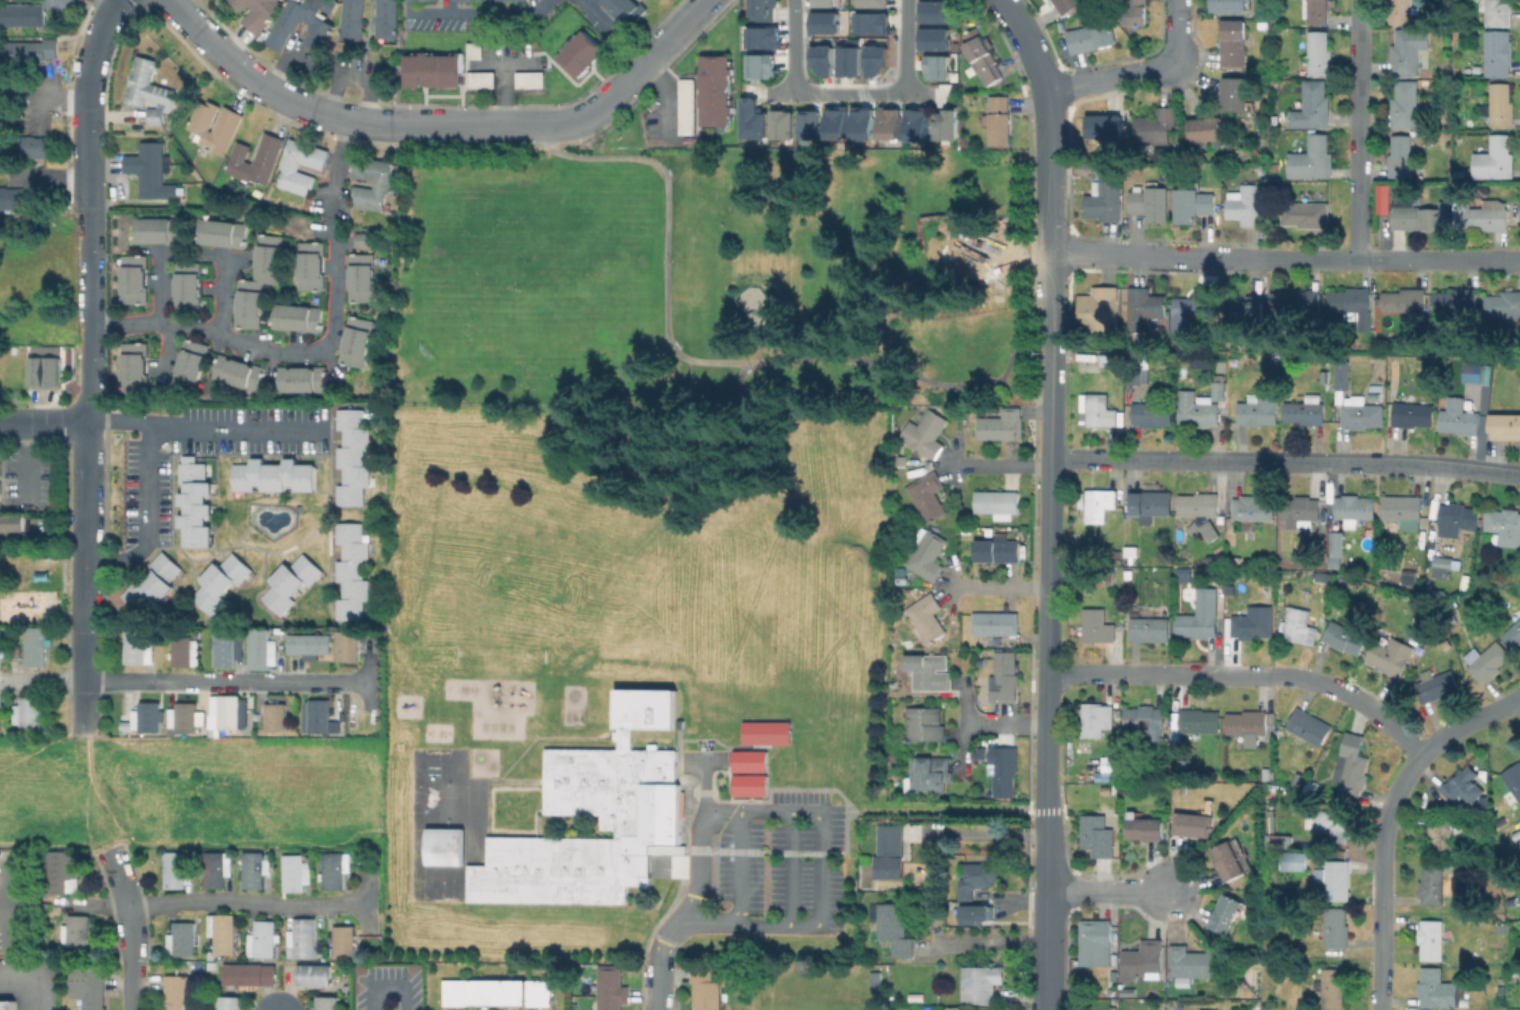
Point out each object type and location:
building: (517, 0)
building: (829, 2)
building: (872, 3)
building: (58, 5)
road: (109, 5)
building: (1067, 5)
building: (1230, 5)
building: (626, 8)
building: (761, 10)
building: (933, 11)
building: (1135, 11)
building: (1316, 11)
building: (1402, 11)
building: (259, 12)
road: (477, 12)
building: (1498, 12)
building: (22, 14)
building: (383, 18)
building: (349, 19)
building: (823, 22)
building: (871, 22)
building: (322, 27)
building: (1264, 27)
road: (612, 31)
building: (1092, 36)
building: (762, 37)
building: (934, 38)
building: (1234, 42)
road: (1024, 43)
road: (790, 46)
road: (903, 47)
building: (29, 49)
building: (1409, 51)
building: (579, 52)
building: (1320, 53)
building: (1498, 53)
building: (983, 56)
building: (821, 59)
building: (875, 60)
building: (848, 61)
building: (760, 65)
building: (936, 67)
building: (432, 70)
road: (1138, 72)
building: (479, 79)
building: (528, 79)
building: (145, 86)
building: (713, 90)
road: (503, 93)
road: (847, 93)
building: (1235, 93)
road: (90, 101)
building: (1406, 104)
building: (685, 106)
building: (1313, 106)
building: (1500, 106)
building: (155, 118)
building: (751, 119)
building: (1001, 120)
building: (835, 123)
building: (889, 123)
road: (442, 124)
building: (781, 124)
building: (808, 124)
building: (863, 124)
building: (915, 125)
building: (1104, 126)
building: (226, 128)
building: (1156, 128)
building: (948, 129)
road: (1361, 130)
building: (1209, 131)
building: (31, 146)
building: (1402, 156)
building: (1312, 158)
building: (1496, 158)
building: (257, 159)
building: (291, 165)
road: (337, 168)
building: (1102, 171)
road: (45, 172)
building: (153, 172)
building: (384, 182)
road: (1048, 188)
building: (12, 198)
building: (1384, 199)
building: (1105, 201)
building: (1151, 203)
building: (1247, 204)
building: (1193, 205)
building: (1306, 214)
building: (1482, 216)
building: (1417, 218)
building: (156, 230)
building: (220, 234)
road: (1158, 255)
park: (534, 256)
building: (269, 257)
road: (1393, 260)
building: (309, 265)
park: (713, 277)
building: (133, 279)
road: (217, 279)
building: (360, 279)
road: (154, 283)
building: (185, 285)
building: (1350, 299)
building: (1457, 299)
building: (1405, 300)
building: (1296, 301)
building: (1503, 304)
building: (1255, 305)
building: (248, 307)
park: (470, 308)
building: (1100, 308)
building: (1145, 308)
building: (1192, 309)
building: (297, 318)
road: (92, 326)
building: (356, 341)
road: (275, 346)
road: (675, 352)
building: (1278, 354)
road: (1008, 358)
building: (1110, 359)
building: (1326, 359)
building: (1236, 361)
building: (188, 363)
building: (133, 366)
building: (47, 370)
building: (238, 372)
building: (1474, 373)
building: (1136, 374)
building: (1324, 374)
building: (1343, 374)
building: (1378, 377)
building: (300, 380)
building: (1220, 386)
building: (1376, 393)
building: (1198, 408)
building: (1259, 408)
building: (1307, 410)
building: (1100, 411)
building: (1153, 413)
building: (1361, 414)
building: (1413, 414)
building: (1460, 417)
road: (119, 419)
road: (44, 423)
building: (1002, 425)
building: (1505, 425)
road: (147, 428)
building: (927, 433)
building: (351, 456)
building: (899, 460)
road: (1285, 462)
road: (999, 465)
building: (272, 475)
building: (929, 496)
building: (193, 502)
building: (998, 503)
building: (1098, 504)
building: (1151, 504)
building: (1255, 508)
building: (1355, 508)
building: (1303, 509)
building: (1405, 511)
building: (1201, 512)
building: (1459, 518)
building: (1505, 524)
building: (11, 525)
road: (1048, 533)
building: (998, 548)
building: (1338, 550)
building: (1130, 553)
building: (928, 554)
building: (1235, 560)
building: (1444, 562)
building: (350, 570)
building: (1183, 573)
building: (1130, 575)
building: (903, 576)
building: (1111, 577)
building: (1409, 577)
building: (151, 582)
building: (218, 582)
building: (288, 582)
road: (998, 586)
road: (87, 587)
building: (1217, 600)
park: (806, 604)
building: (927, 619)
building: (996, 623)
building: (1254, 623)
building: (1098, 625)
building: (1197, 625)
building: (1300, 626)
building: (1150, 629)
building: (1514, 636)
building: (1346, 638)
building: (1, 639)
building: (310, 643)
building: (36, 645)
building: (140, 647)
building: (350, 648)
building: (227, 649)
building: (185, 650)
building: (261, 650)
building: (1391, 655)
building: (1489, 660)
building: (930, 672)
road: (1246, 675)
road: (226, 677)
building: (1005, 677)
road: (43, 679)
road: (367, 679)
building: (1437, 686)
building: (648, 710)
building: (226, 713)
building: (319, 715)
building: (277, 717)
building: (1148, 717)
building: (27, 718)
building: (146, 718)
building: (185, 718)
building: (1096, 718)
building: (1199, 720)
building: (1, 722)
building: (925, 724)
road: (1005, 724)
building: (1247, 725)
building: (1308, 726)
building: (767, 732)
road: (702, 758)
building: (746, 759)
building: (1352, 767)
building: (1338, 768)
building: (1004, 769)
building: (930, 773)
building: (1297, 778)
building: (1513, 779)
building: (1315, 785)
building: (746, 787)
building: (1463, 787)
building: (1183, 788)
road: (98, 797)
road: (932, 808)
building: (662, 814)
road: (1392, 823)
building: (622, 824)
building: (1194, 824)
building: (1332, 824)
road: (86, 828)
building: (1145, 828)
building: (1516, 829)
building: (1098, 834)
building: (1444, 835)
building: (1280, 840)
building: (1303, 842)
building: (447, 846)
building: (1235, 847)
road: (819, 848)
building: (891, 851)
parking lot: (785, 858)
building: (1229, 860)
building: (1301, 862)
road: (738, 866)
road: (699, 867)
road: (789, 867)
building: (218, 868)
building: (178, 869)
building: (256, 869)
building: (336, 869)
building: (63, 872)
building: (297, 872)
building: (1260, 874)
building: (977, 877)
building: (1337, 881)
building: (1432, 884)
road: (1108, 890)
road: (1044, 894)
road: (246, 899)
road: (129, 904)
building: (979, 912)
building: (1227, 913)
road: (5, 917)
road: (707, 925)
building: (893, 926)
building: (1336, 928)
building: (223, 932)
building: (77, 935)
building: (304, 938)
building: (183, 939)
building: (263, 939)
building: (1432, 939)
building: (1096, 940)
building: (345, 941)
road: (991, 941)
building: (1144, 961)
building: (1191, 962)
building: (249, 974)
building: (313, 974)
road: (36, 977)
building: (877, 979)
building: (981, 982)
road: (134, 983)
building: (88, 986)
parking lot: (386, 987)
building: (1333, 987)
building: (612, 988)
road: (386, 989)
road: (658, 989)
building: (706, 989)
building: (1440, 989)
building: (176, 991)
building: (495, 992)
building: (231, 1001)
building: (327, 1002)
building: (9, 1004)
building: (1199, 1009)
building: (1207, 1009)

